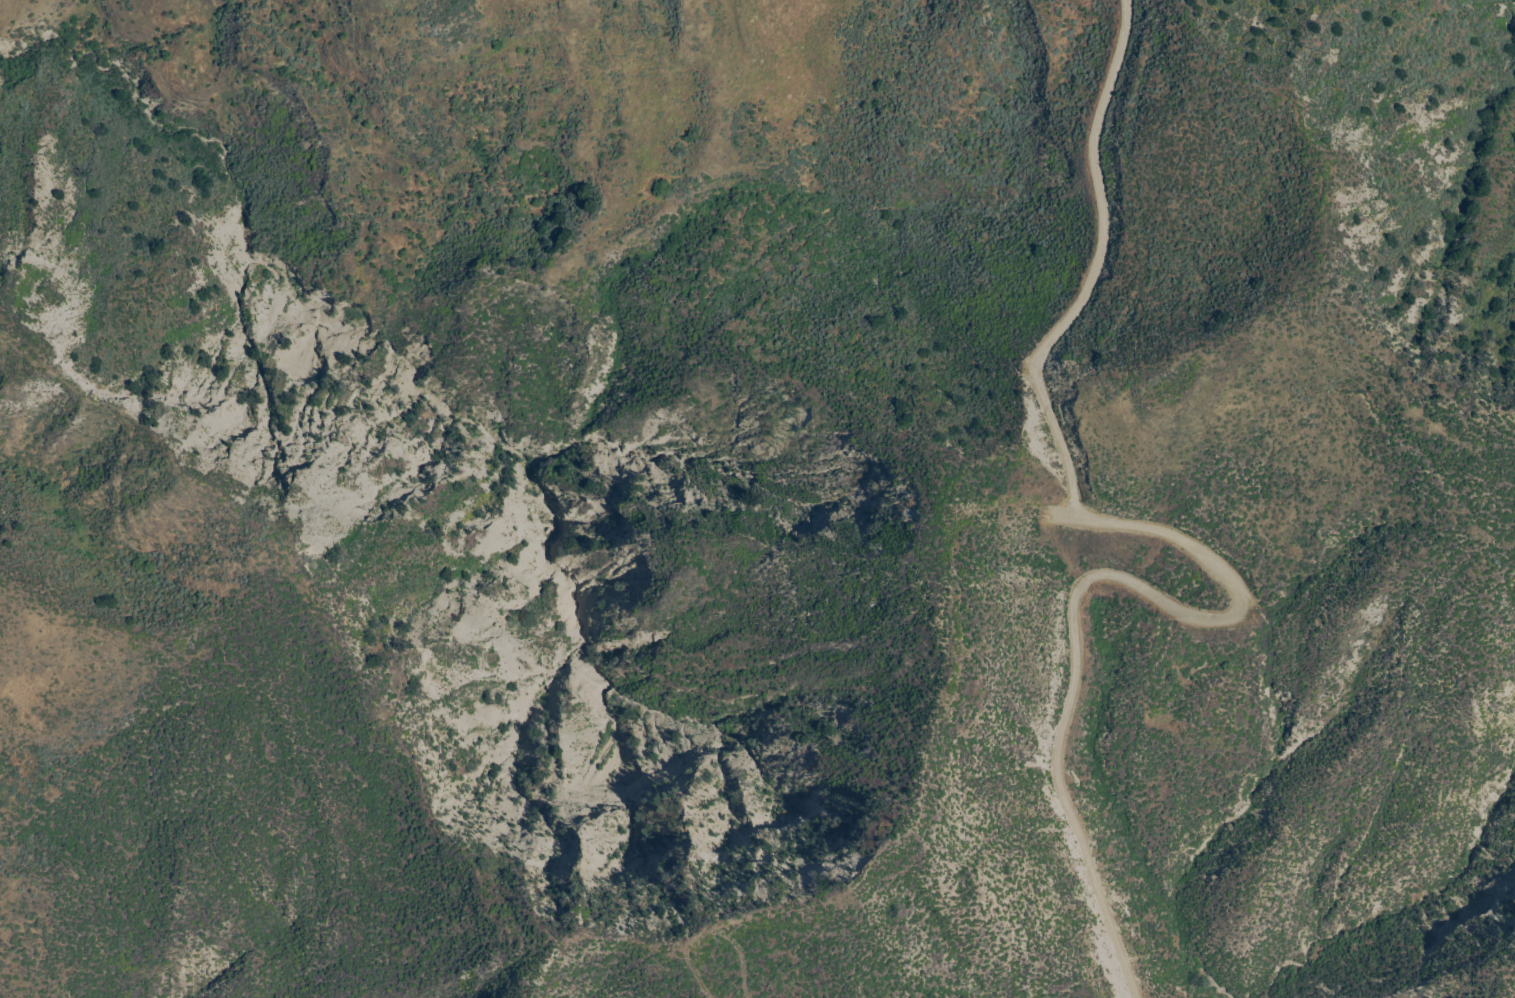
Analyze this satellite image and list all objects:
road: (1196, 544)

